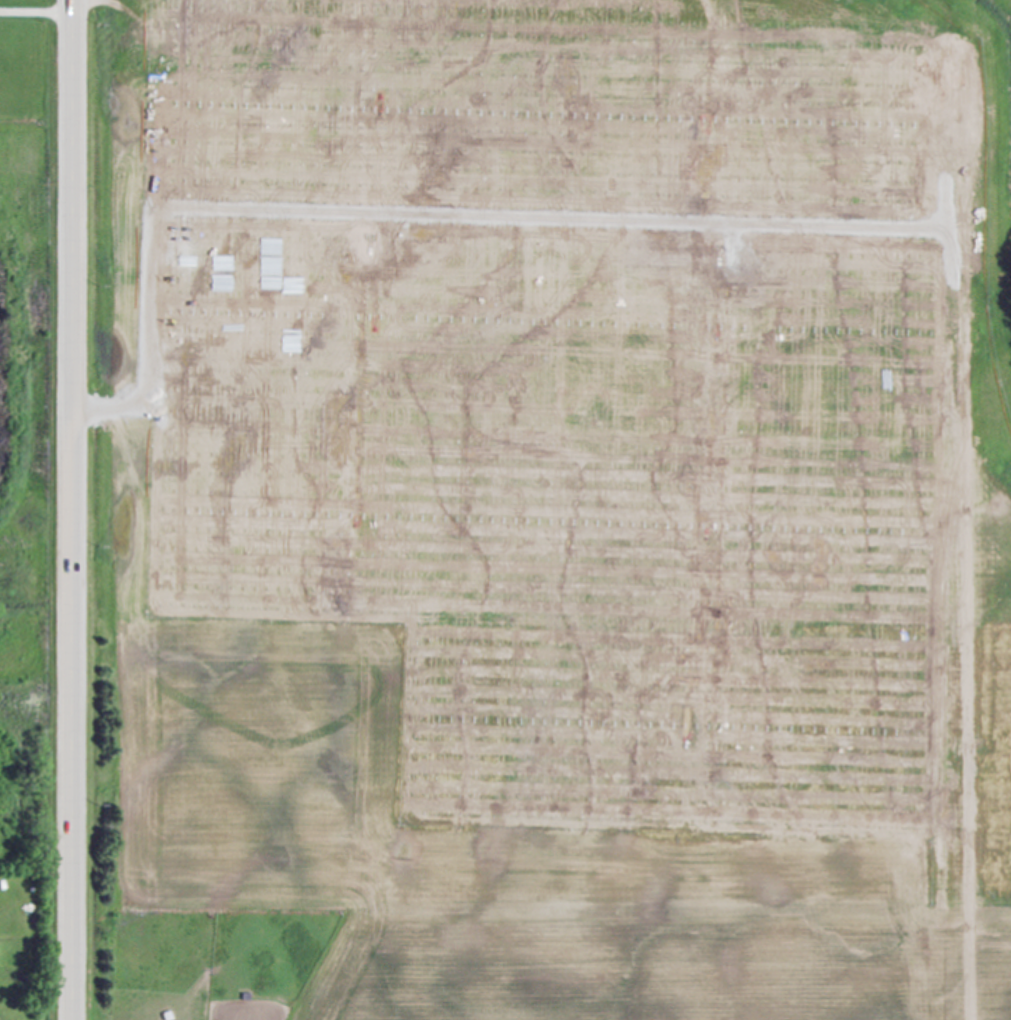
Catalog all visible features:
road: (36, 13)
road: (70, 509)

